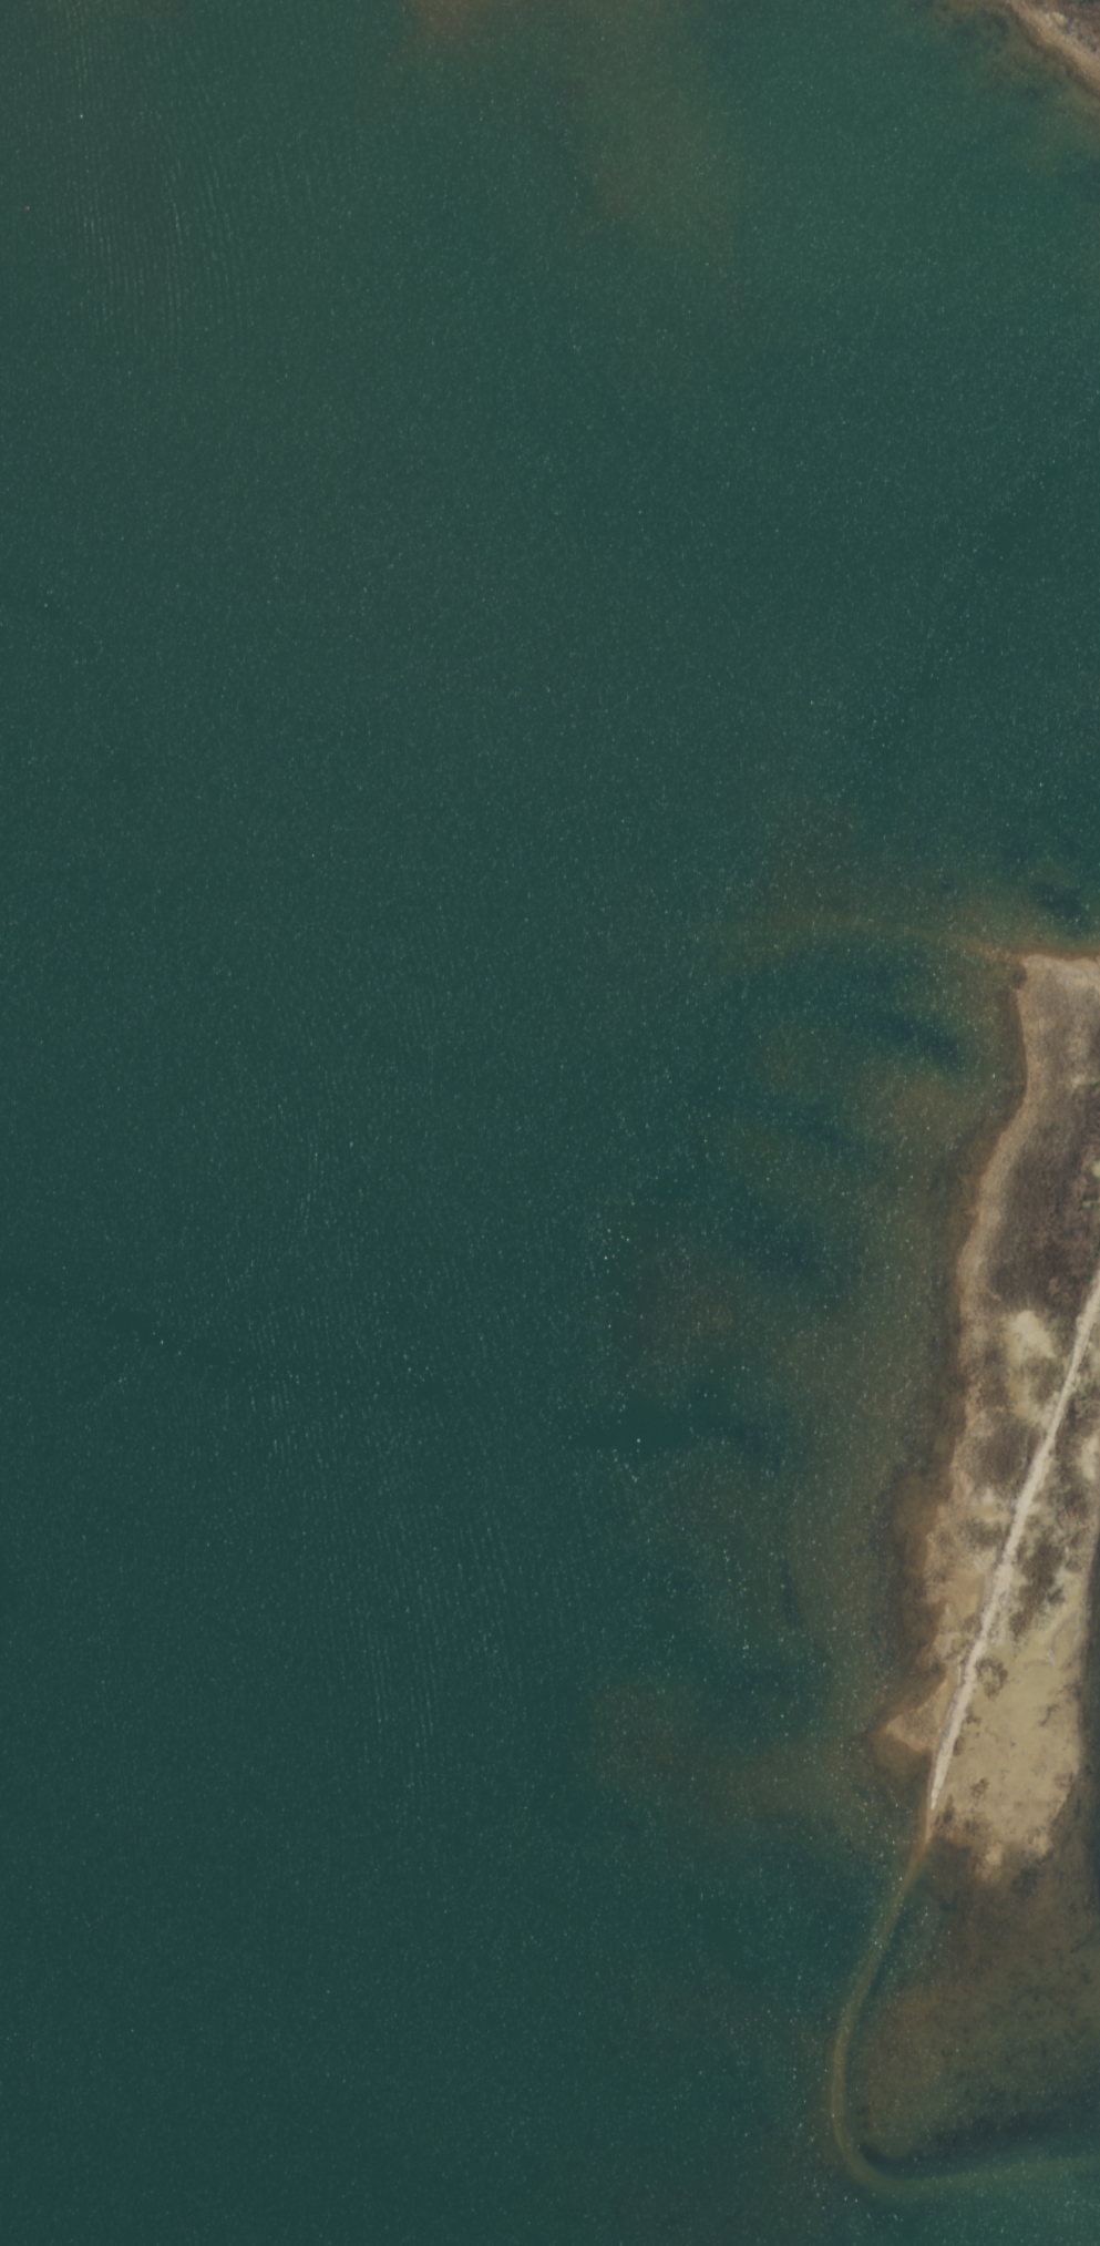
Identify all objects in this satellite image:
road: (972, 1707)
river: (187, 2062)

